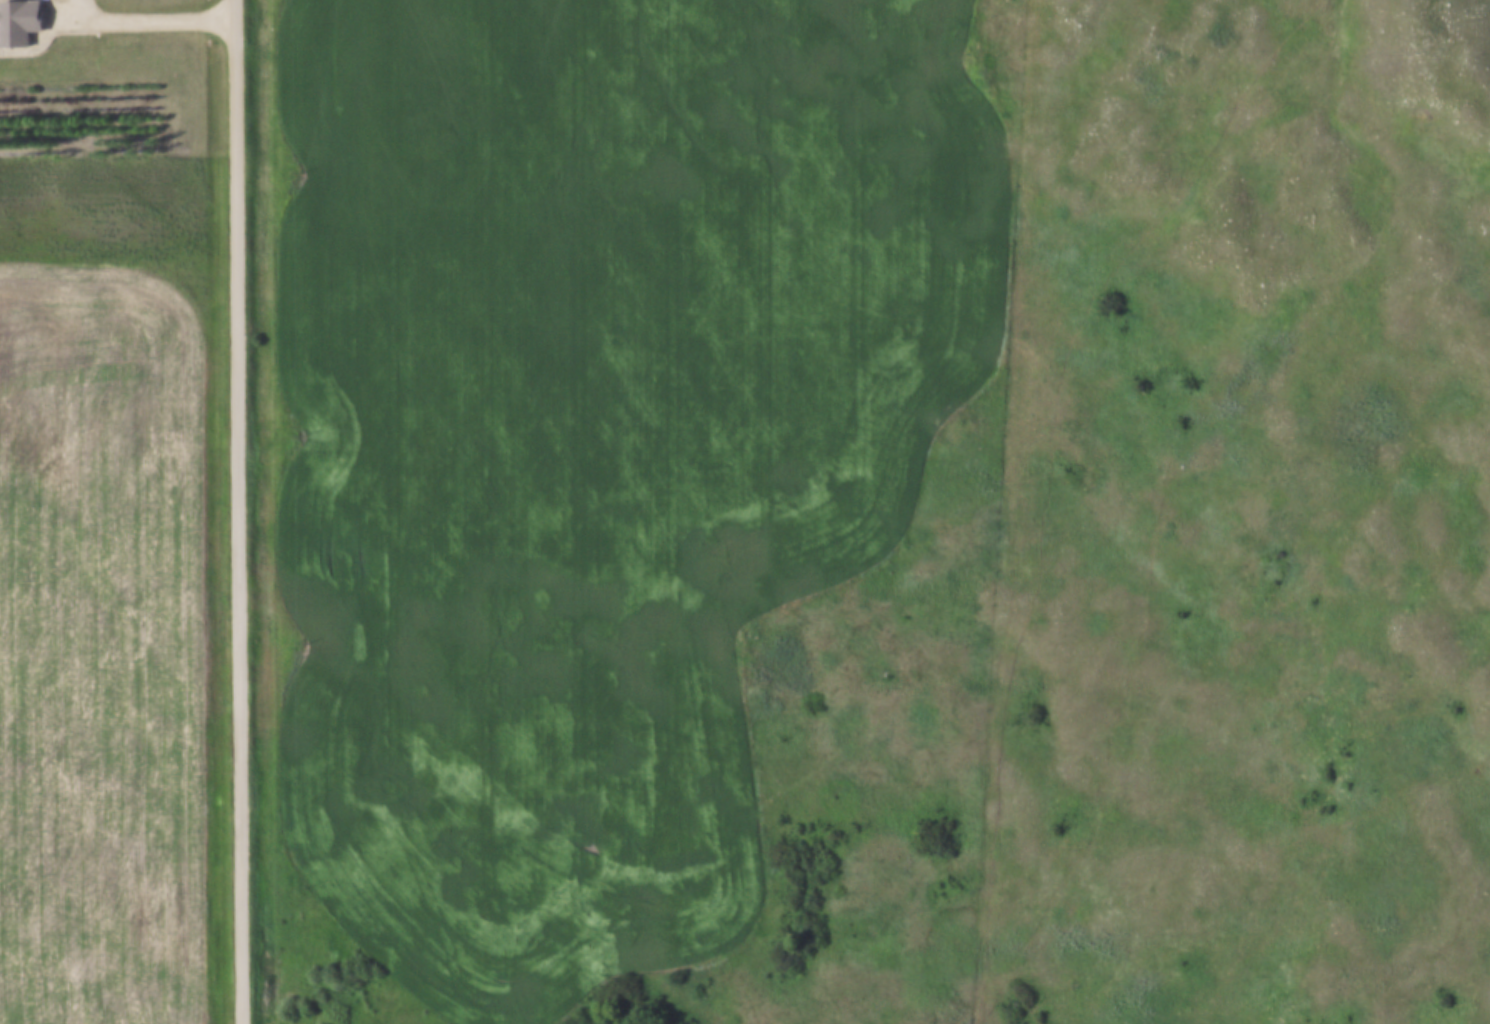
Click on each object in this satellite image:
building: (19, 21)
road: (241, 512)

